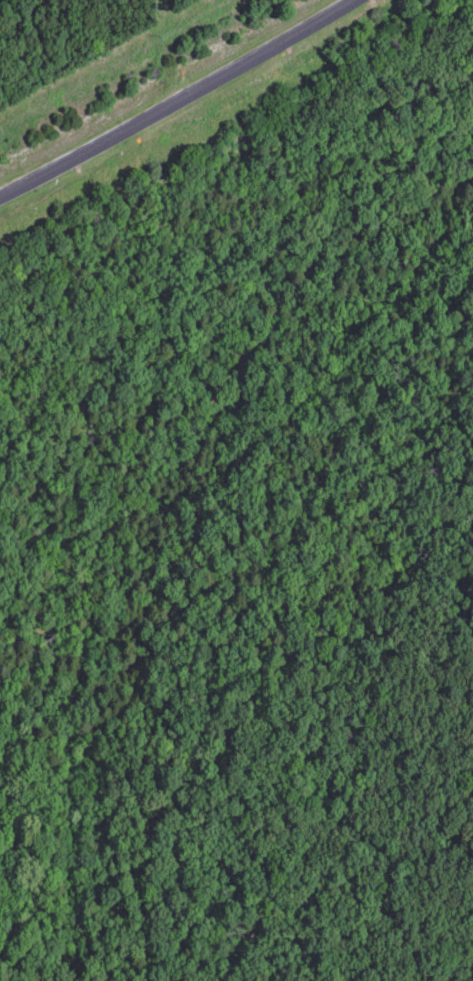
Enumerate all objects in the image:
road: (171, 97)

